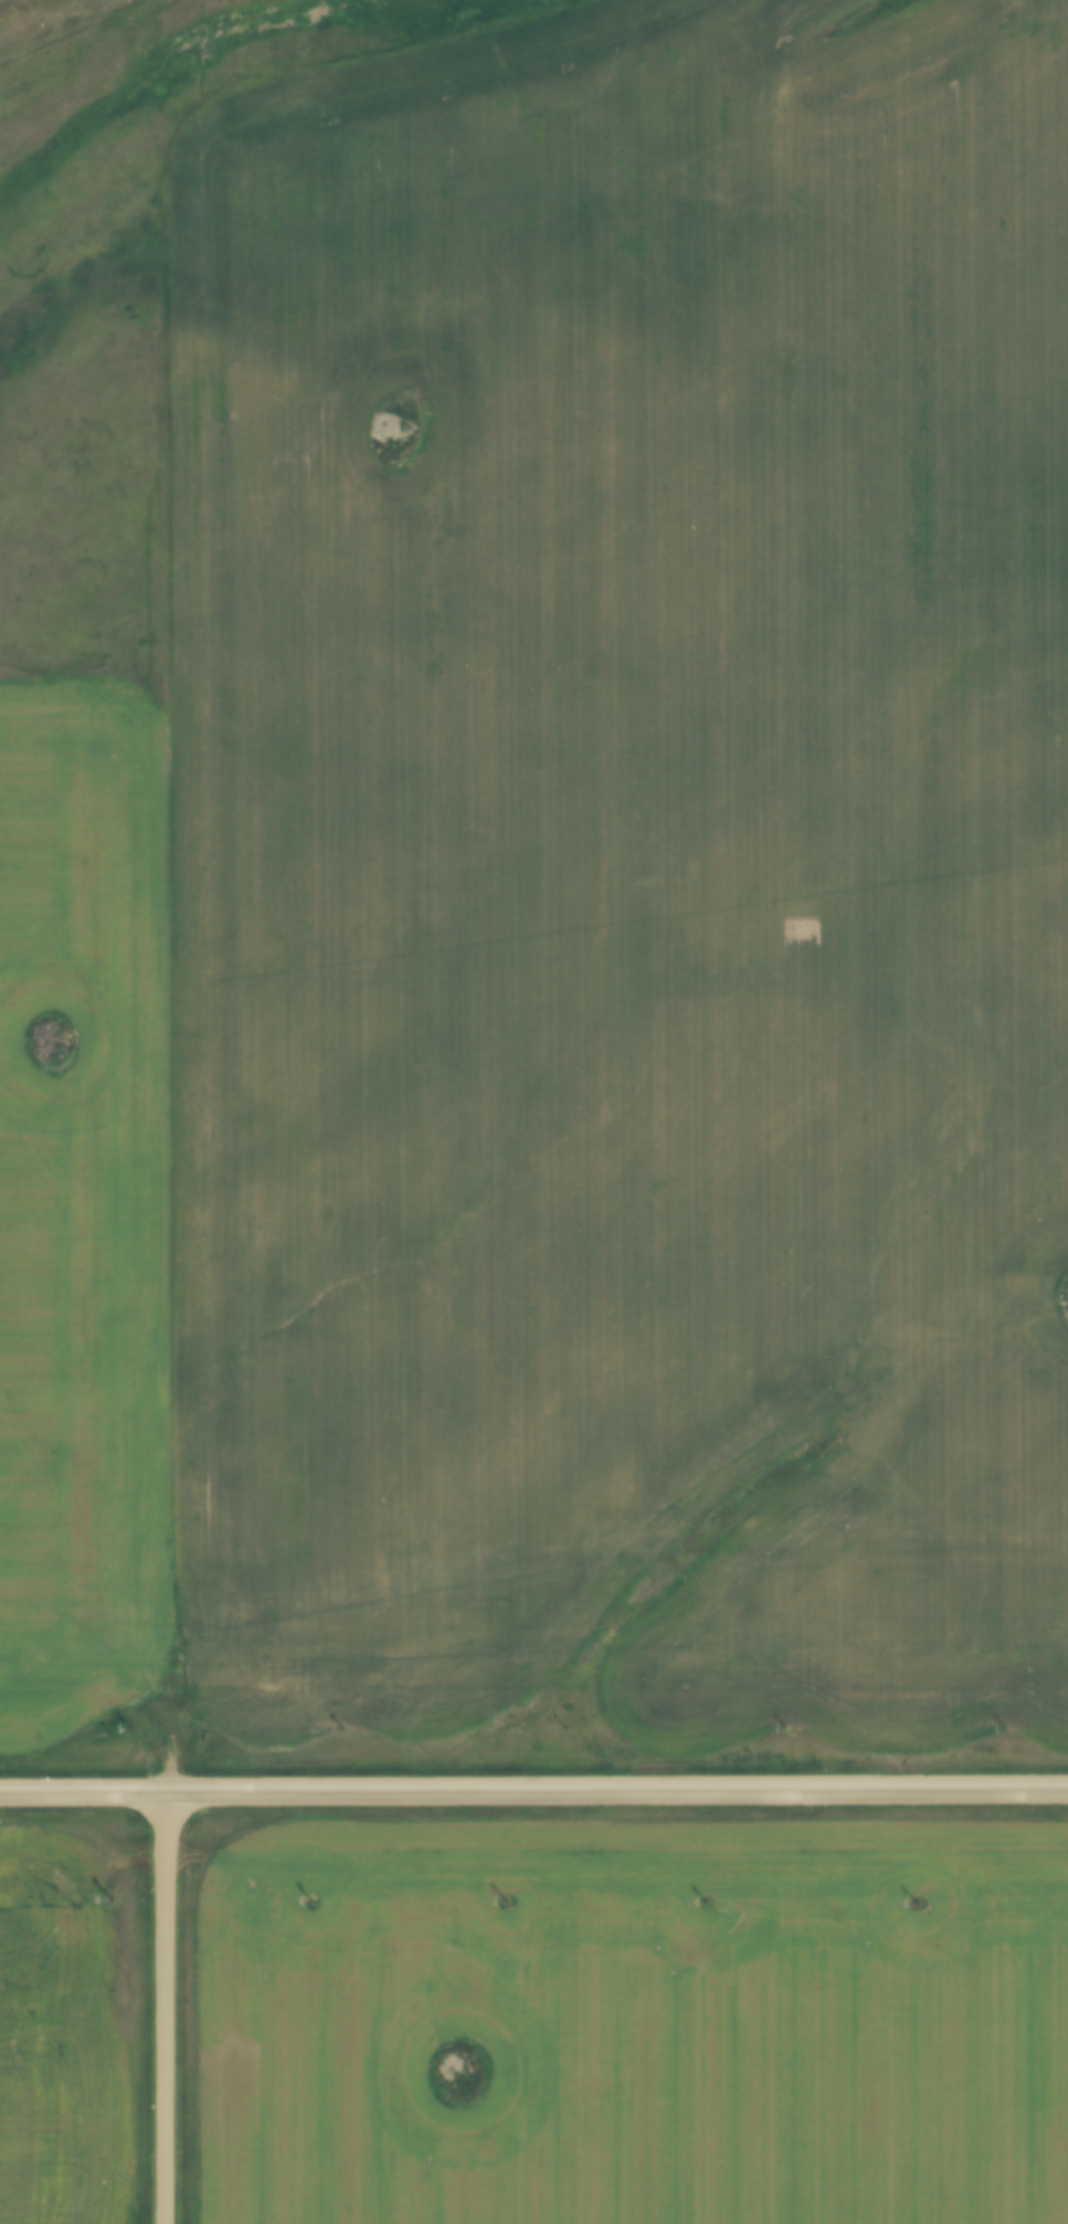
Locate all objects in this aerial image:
road: (533, 1789)
road: (168, 2006)

